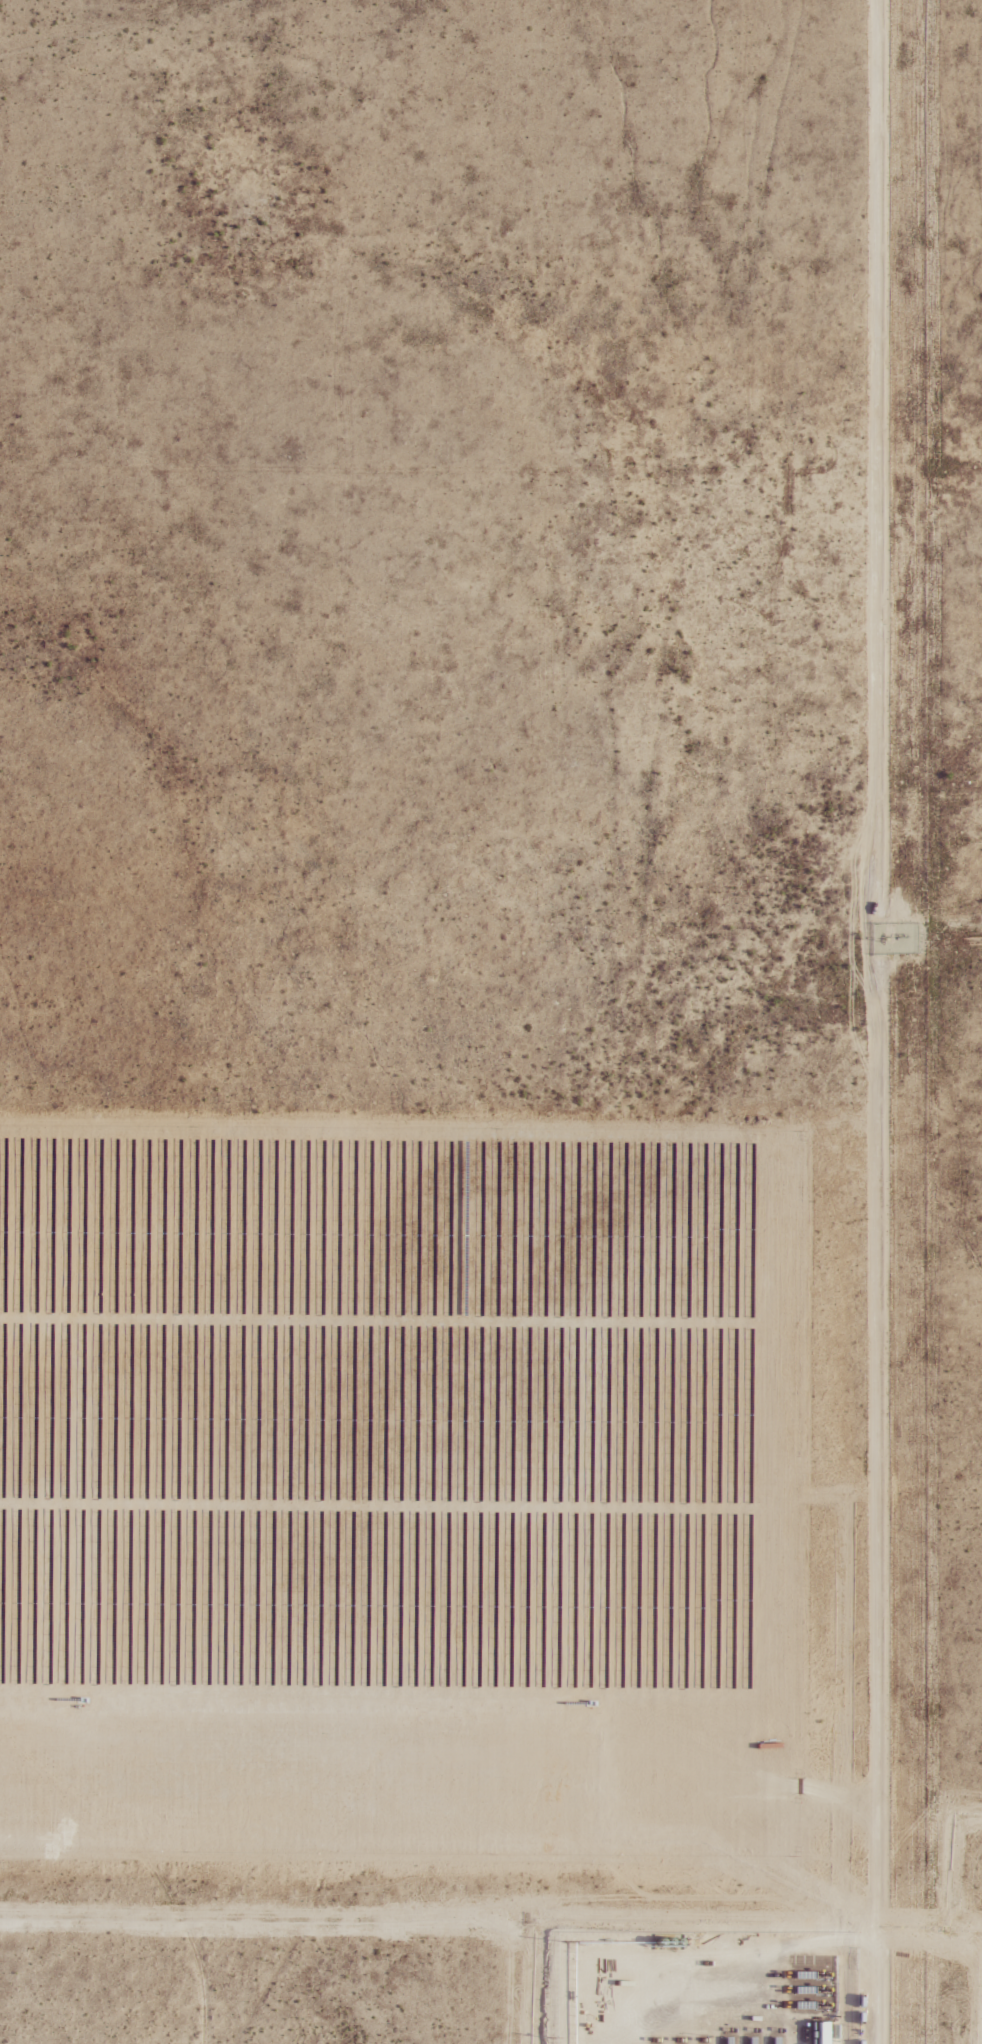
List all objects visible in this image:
road: (875, 1020)
solar farm: (399, 1499)
road: (439, 1780)
road: (567, 2004)

